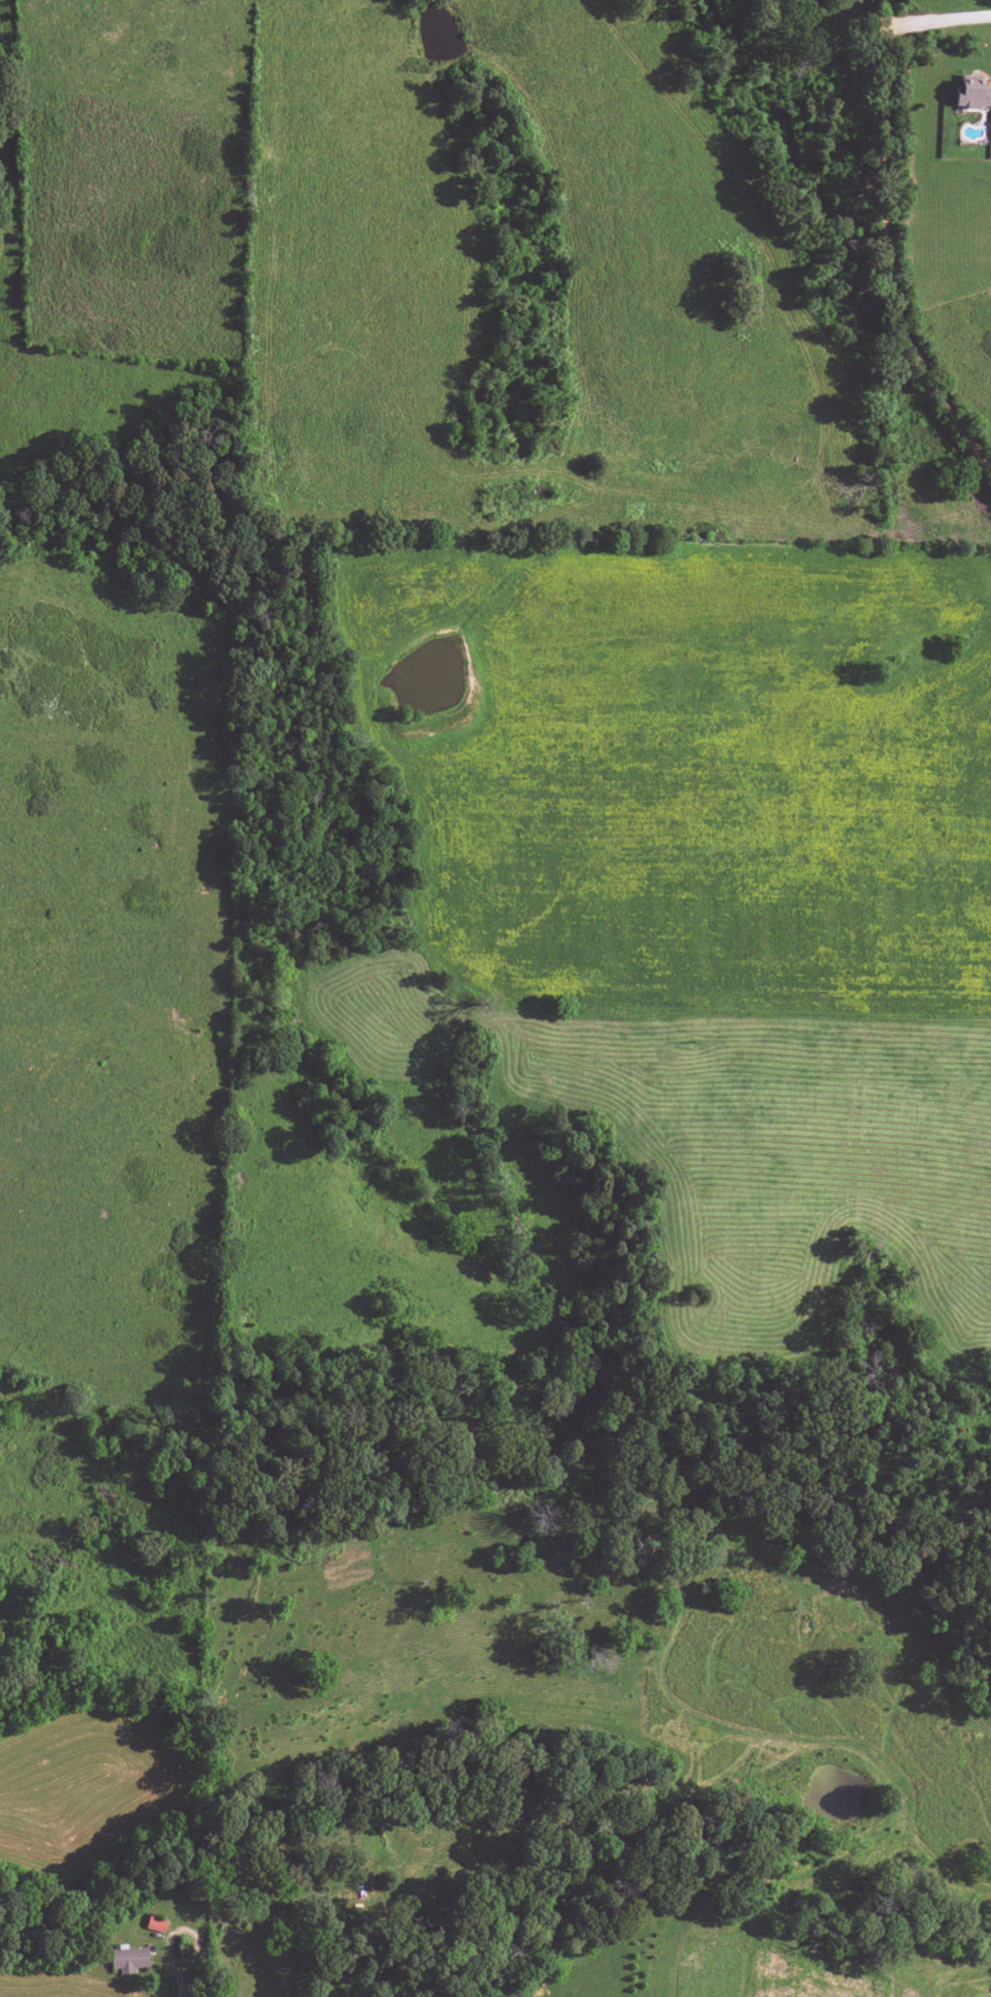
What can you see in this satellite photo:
road: (939, 20)
building: (972, 94)
road: (886, 247)
building: (155, 1923)
road: (182, 1929)
building: (127, 1959)
road: (178, 1990)

